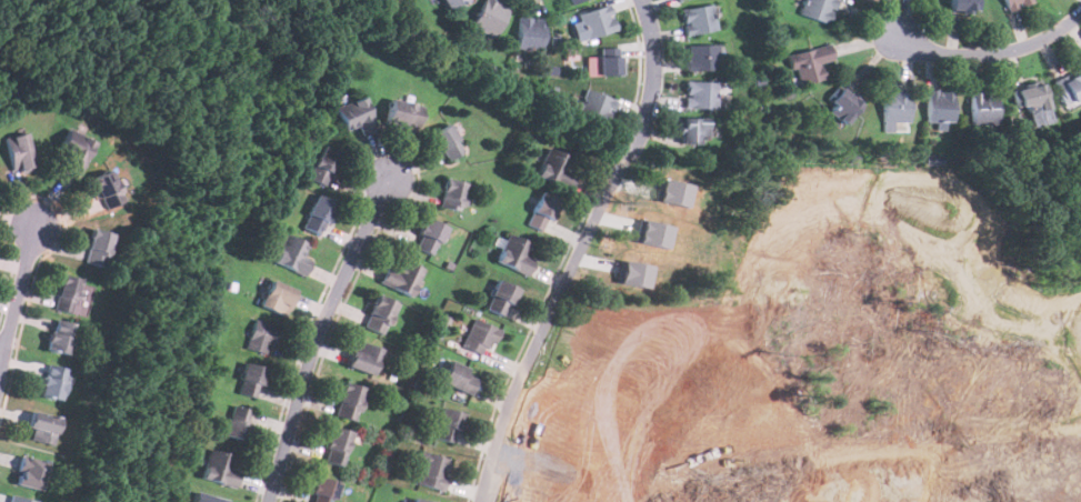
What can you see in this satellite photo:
building: (678, 0)
building: (574, 1)
building: (451, 3)
building: (1015, 3)
building: (964, 6)
building: (818, 9)
building: (490, 18)
building: (698, 19)
building: (598, 22)
building: (530, 34)
building: (609, 51)
road: (992, 53)
building: (702, 58)
building: (809, 63)
building: (602, 67)
road: (654, 81)
building: (1069, 88)
building: (701, 96)
building: (1031, 99)
building: (897, 104)
building: (842, 106)
building: (941, 106)
building: (597, 107)
building: (983, 108)
building: (403, 114)
building: (357, 116)
building: (692, 131)
building: (446, 141)
building: (74, 152)
building: (19, 153)
road: (627, 162)
building: (323, 165)
building: (553, 168)
building: (107, 190)
building: (674, 192)
building: (452, 194)
building: (543, 210)
building: (318, 214)
building: (654, 232)
building: (429, 237)
building: (98, 248)
building: (514, 254)
building: (292, 255)
building: (635, 273)
building: (403, 279)
building: (67, 294)
building: (278, 298)
building: (500, 299)
road: (18, 301)
road: (865, 304)
building: (379, 314)
road: (548, 330)
building: (480, 334)
road: (319, 335)
building: (262, 337)
building: (60, 338)
road: (3, 347)
building: (362, 358)
building: (459, 378)
building: (250, 380)
building: (53, 382)
building: (348, 401)
building: (239, 423)
building: (448, 425)
building: (42, 429)
building: (337, 446)
building: (219, 469)
building: (432, 471)
road: (642, 471)
building: (30, 473)
building: (322, 490)
building: (204, 498)
building: (23, 499)
building: (418, 501)

